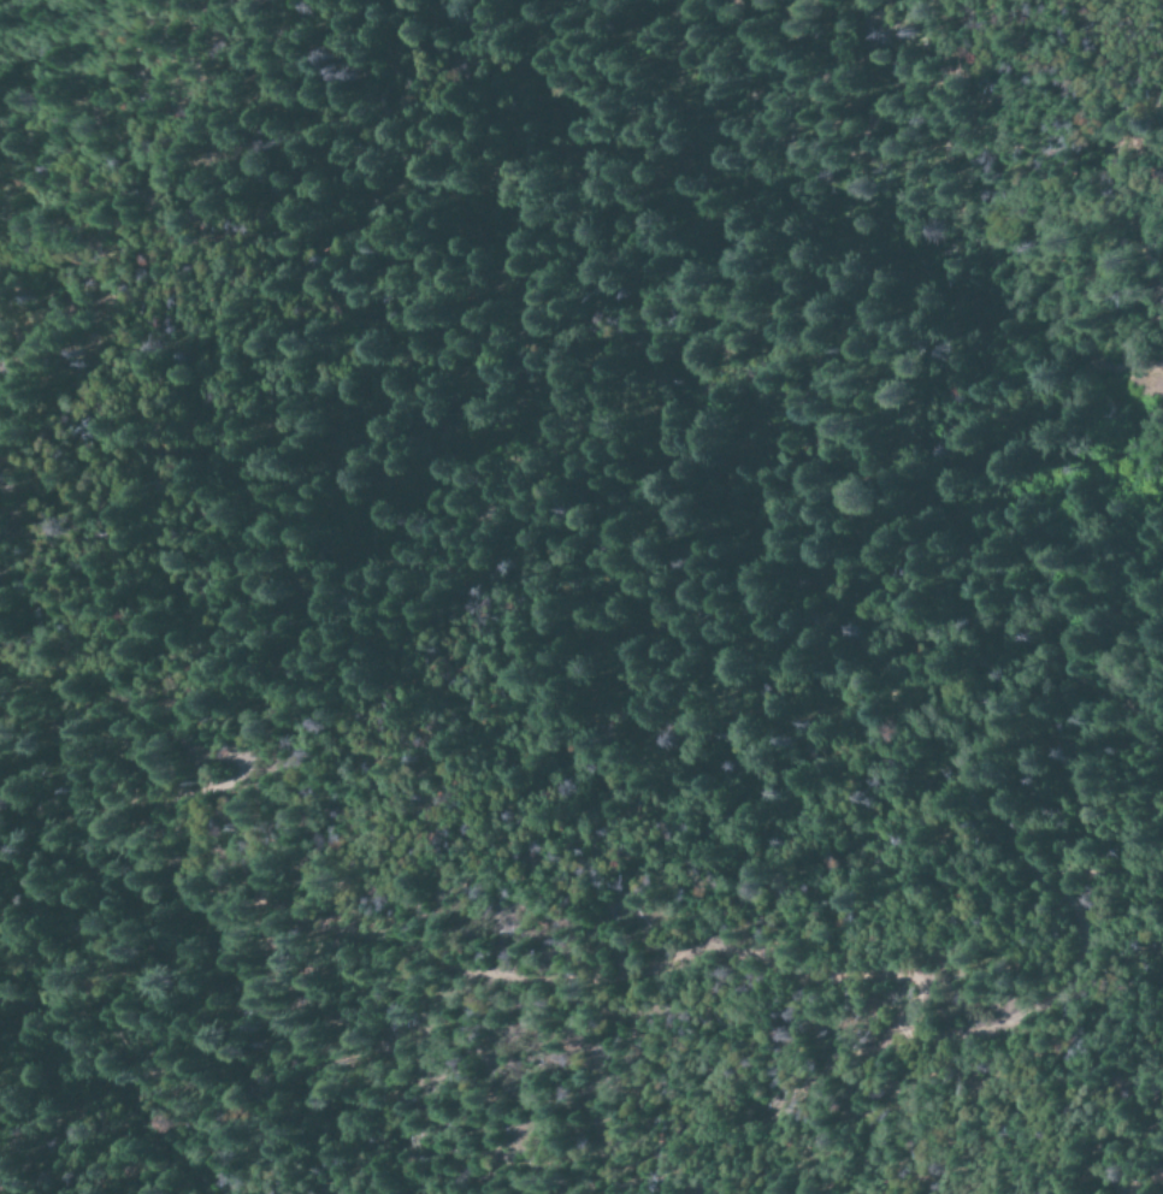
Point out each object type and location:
road: (1034, 497)

